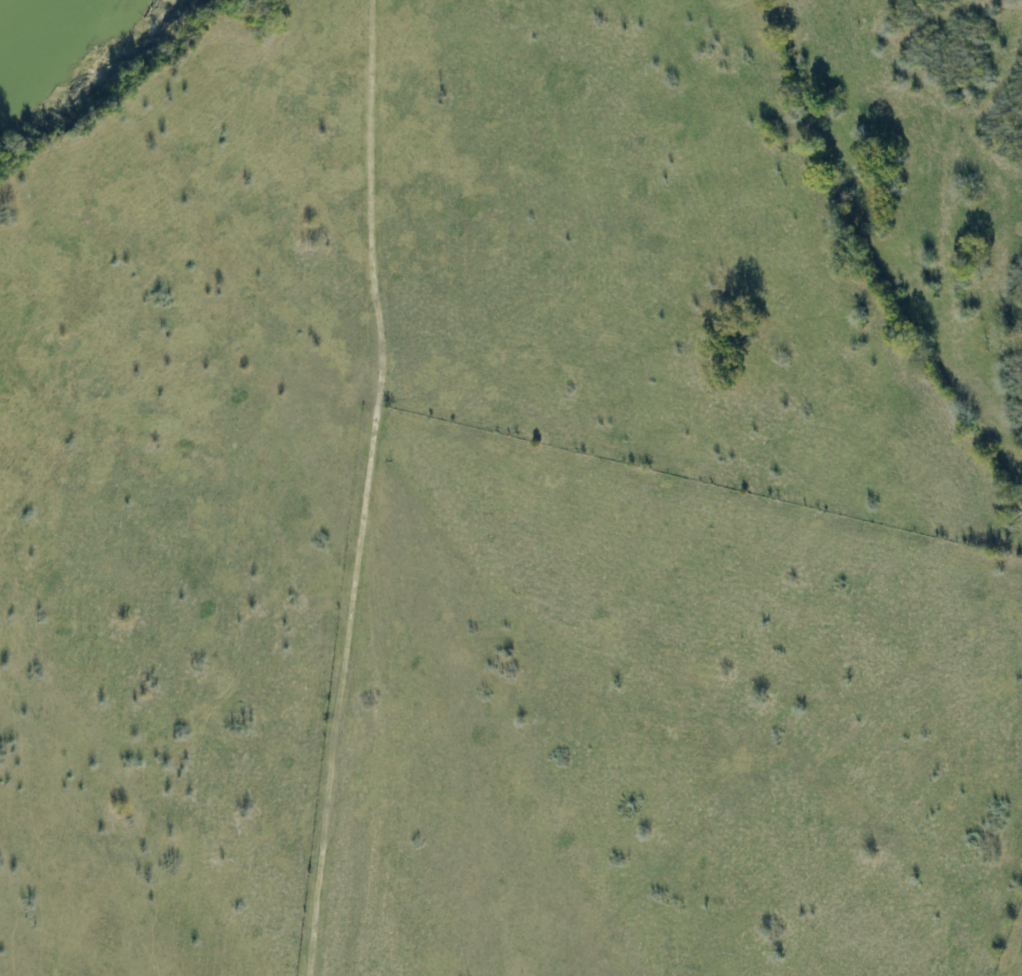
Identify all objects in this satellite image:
river: (34, 30)

